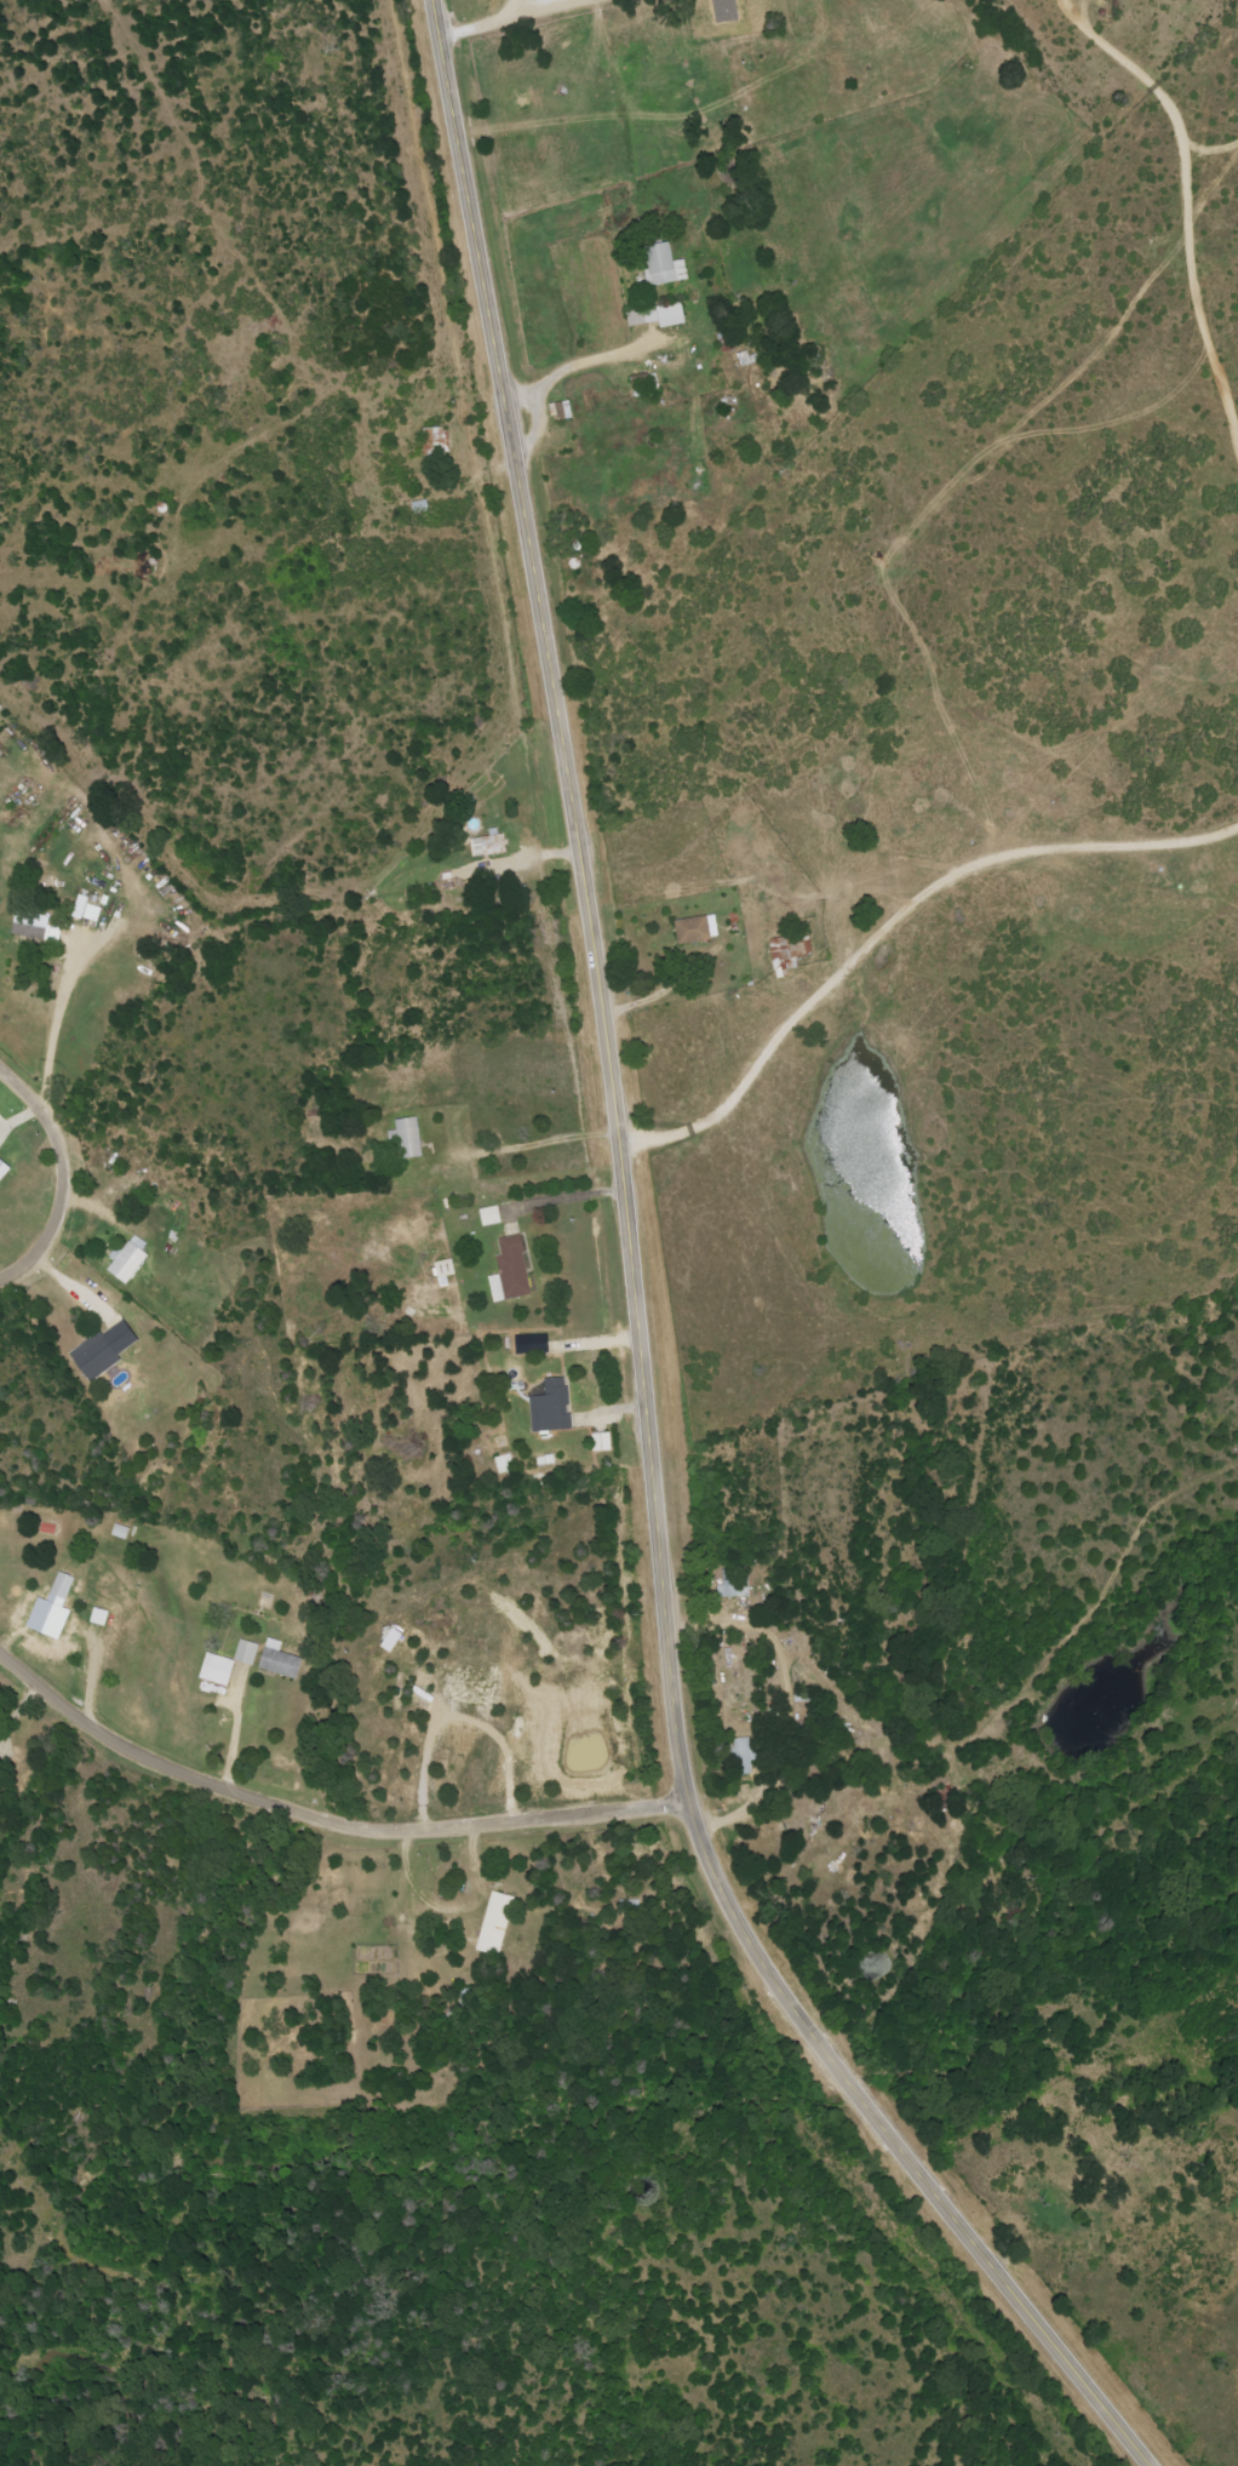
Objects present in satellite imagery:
road: (527, 7)
building: (722, 10)
road: (510, 18)
building: (661, 264)
building: (658, 315)
road: (572, 364)
road: (535, 430)
building: (435, 440)
building: (487, 843)
building: (85, 909)
road: (893, 919)
building: (33, 926)
building: (695, 928)
building: (789, 951)
road: (53, 1026)
building: (405, 1137)
road: (59, 1177)
building: (488, 1215)
building: (127, 1259)
building: (442, 1268)
building: (509, 1270)
road: (634, 1301)
building: (99, 1350)
building: (549, 1406)
building: (600, 1441)
building: (733, 1581)
building: (51, 1608)
building: (98, 1615)
building: (245, 1650)
building: (276, 1659)
building: (213, 1667)
road: (235, 1729)
building: (740, 1755)
road: (320, 1823)
building: (493, 1922)

